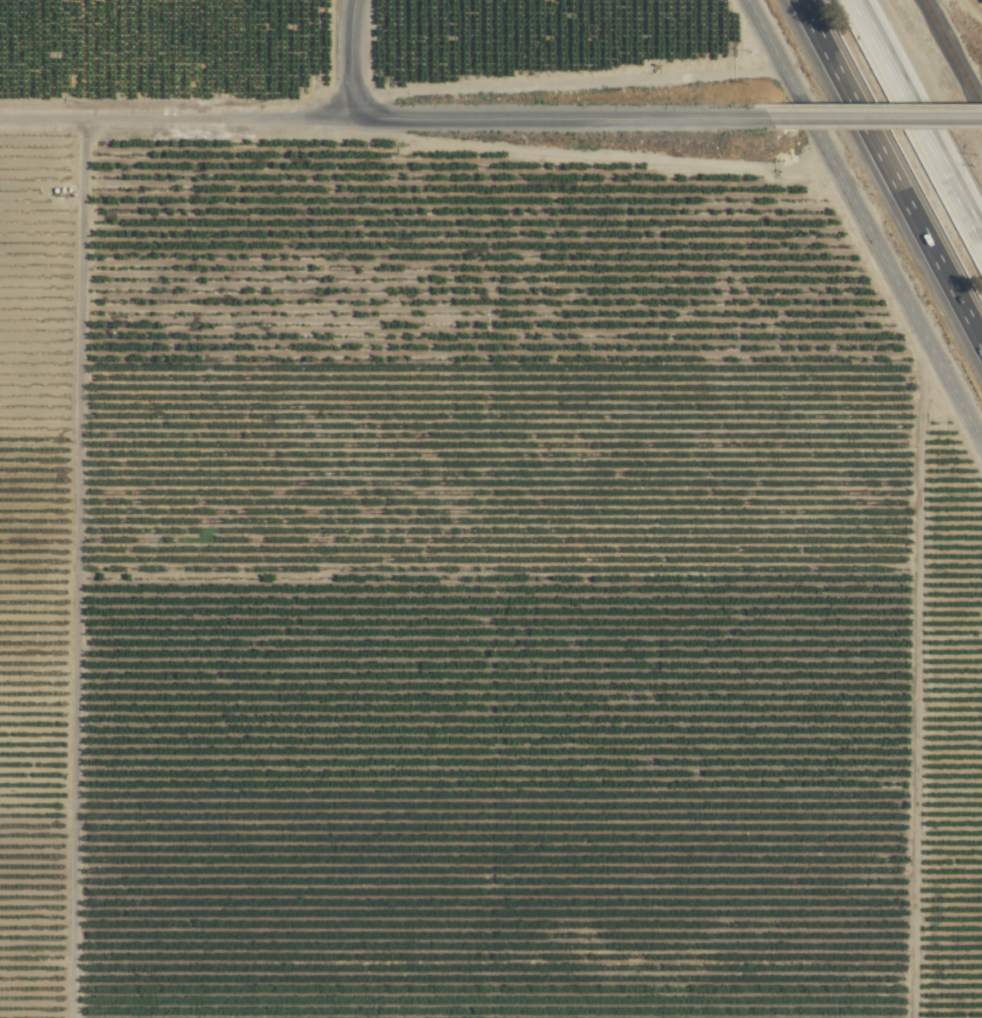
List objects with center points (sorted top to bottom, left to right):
road: (757, 27)
road: (348, 57)
railway: (951, 57)
road: (174, 117)
road: (555, 117)
road: (872, 117)
road: (917, 121)
road: (888, 175)
road: (877, 250)
crop: (472, 525)

